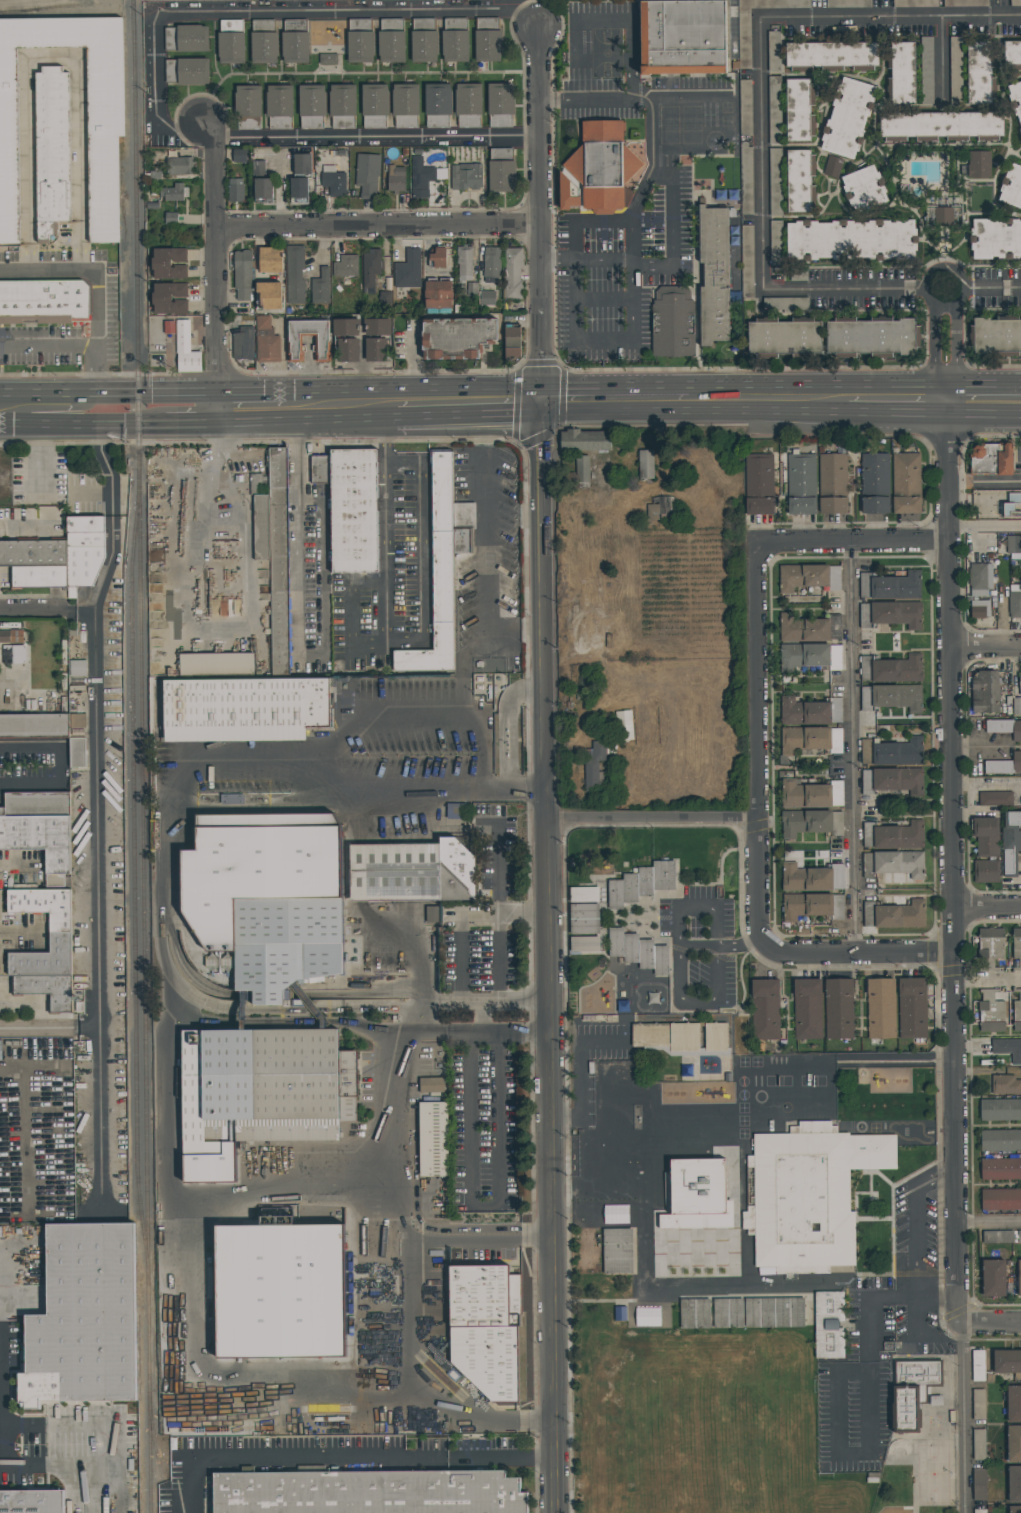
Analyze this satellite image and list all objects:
building: (915, 3)
building: (965, 3)
building: (1015, 3)
building: (848, 4)
road: (890, 19)
road: (574, 21)
building: (683, 37)
building: (187, 38)
building: (744, 39)
building: (391, 40)
building: (455, 40)
building: (488, 40)
building: (360, 41)
building: (424, 41)
building: (231, 42)
building: (264, 42)
building: (295, 42)
building: (773, 51)
building: (1012, 54)
building: (831, 55)
building: (327, 59)
road: (941, 61)
road: (155, 67)
building: (955, 68)
building: (926, 70)
building: (187, 71)
building: (978, 73)
building: (903, 74)
road: (633, 80)
building: (105, 91)
building: (1015, 99)
road: (648, 103)
building: (500, 104)
building: (374, 105)
building: (405, 105)
building: (437, 105)
building: (468, 105)
building: (312, 106)
building: (342, 106)
building: (249, 107)
building: (279, 107)
building: (744, 108)
building: (798, 109)
building: (774, 110)
building: (847, 117)
building: (942, 126)
building: (1020, 131)
building: (1020, 136)
building: (52, 151)
building: (239, 155)
building: (302, 164)
building: (978, 164)
building: (177, 166)
building: (603, 166)
road: (539, 167)
building: (832, 167)
building: (501, 170)
building: (367, 175)
building: (466, 177)
building: (395, 178)
building: (421, 178)
building: (745, 178)
building: (798, 180)
building: (261, 181)
building: (333, 181)
building: (774, 181)
building: (1011, 186)
building: (298, 188)
building: (864, 188)
building: (236, 190)
building: (175, 192)
building: (942, 216)
building: (171, 218)
road: (585, 223)
road: (377, 227)
road: (760, 230)
road: (673, 231)
building: (996, 238)
building: (851, 239)
building: (775, 242)
building: (439, 257)
road: (555, 258)
building: (271, 259)
road: (625, 259)
building: (746, 260)
building: (169, 263)
building: (465, 263)
building: (491, 264)
building: (346, 266)
building: (371, 268)
building: (407, 270)
road: (215, 271)
parking lot: (622, 271)
building: (513, 273)
building: (242, 274)
building: (295, 275)
building: (714, 275)
building: (320, 287)
road: (985, 288)
road: (1011, 288)
road: (915, 289)
building: (271, 294)
building: (438, 296)
building: (487, 296)
building: (169, 298)
building: (43, 301)
building: (785, 302)
road: (965, 304)
road: (97, 309)
building: (672, 322)
building: (873, 335)
building: (996, 335)
building: (785, 336)
building: (458, 337)
building: (377, 338)
building: (347, 339)
building: (266, 341)
building: (512, 342)
building: (243, 343)
building: (295, 343)
road: (601, 343)
road: (541, 346)
building: (185, 349)
traffic signals: (542, 360)
road: (955, 364)
road: (932, 366)
road: (96, 369)
road: (976, 384)
road: (811, 385)
road: (615, 386)
traffic signals: (567, 387)
road: (417, 389)
road: (108, 390)
road: (255, 390)
road: (540, 401)
road: (53, 411)
traffic signals: (513, 414)
road: (462, 415)
road: (686, 415)
road: (890, 415)
road: (984, 415)
road: (302, 419)
road: (69, 420)
road: (179, 421)
building: (585, 440)
traffic signals: (539, 441)
road: (100, 449)
road: (38, 455)
road: (219, 456)
building: (991, 459)
building: (646, 464)
building: (582, 468)
building: (320, 469)
road: (538, 469)
road: (984, 481)
building: (906, 483)
building: (759, 484)
building: (801, 484)
building: (832, 484)
building: (875, 484)
building: (1012, 506)
building: (660, 507)
building: (354, 511)
road: (112, 513)
building: (260, 515)
road: (23, 521)
road: (984, 525)
building: (463, 527)
road: (854, 544)
building: (1014, 546)
building: (84, 549)
building: (34, 552)
building: (279, 561)
building: (38, 576)
building: (438, 577)
building: (808, 577)
building: (980, 578)
crop: (684, 585)
building: (890, 586)
building: (1015, 601)
building: (980, 608)
road: (47, 609)
road: (386, 612)
building: (891, 614)
building: (809, 628)
building: (11, 636)
road: (369, 645)
road: (986, 647)
building: (14, 654)
building: (809, 656)
building: (216, 664)
building: (78, 668)
building: (891, 669)
building: (1020, 684)
building: (985, 692)
building: (892, 697)
building: (1017, 705)
building: (241, 708)
building: (810, 711)
building: (78, 721)
building: (34, 724)
building: (624, 725)
building: (1005, 728)
building: (810, 739)
road: (758, 745)
road: (970, 745)
road: (853, 749)
building: (78, 752)
building: (892, 752)
railway: (144, 756)
road: (59, 765)
building: (1004, 765)
building: (595, 768)
building: (893, 780)
road: (982, 785)
road: (94, 788)
road: (434, 788)
building: (811, 794)
building: (995, 798)
building: (36, 804)
building: (456, 811)
road: (652, 819)
building: (811, 822)
building: (894, 835)
building: (986, 836)
building: (40, 841)
building: (1011, 842)
building: (894, 863)
road: (16, 867)
road: (953, 870)
building: (986, 871)
building: (412, 872)
railway: (136, 873)
building: (811, 878)
building: (641, 883)
road: (497, 892)
building: (584, 894)
building: (267, 897)
building: (44, 905)
building: (812, 906)
road: (987, 908)
building: (433, 914)
building: (894, 914)
building: (584, 918)
building: (584, 944)
road: (719, 946)
building: (1016, 946)
building: (990, 947)
building: (638, 951)
road: (858, 954)
building: (44, 958)
road: (677, 960)
road: (498, 980)
building: (46, 989)
building: (839, 1008)
building: (881, 1008)
building: (912, 1008)
building: (766, 1009)
building: (807, 1009)
building: (1017, 1010)
building: (991, 1012)
road: (481, 1016)
road: (548, 1019)
road: (35, 1026)
road: (478, 1031)
building: (650, 1035)
building: (684, 1037)
building: (716, 1037)
building: (1008, 1048)
road: (394, 1084)
building: (1005, 1084)
building: (431, 1085)
building: (260, 1093)
road: (582, 1096)
building: (1000, 1110)
road: (97, 1114)
building: (433, 1138)
building: (1000, 1140)
building: (1001, 1169)
building: (698, 1187)
building: (810, 1194)
building: (1001, 1199)
road: (485, 1205)
road: (915, 1221)
road: (989, 1222)
building: (997, 1236)
building: (1019, 1236)
building: (617, 1251)
building: (1019, 1277)
building: (994, 1278)
building: (281, 1291)
building: (774, 1312)
building: (620, 1313)
building: (694, 1313)
building: (728, 1313)
building: (84, 1318)
road: (407, 1318)
building: (829, 1324)
road: (989, 1325)
building: (486, 1327)
railway: (120, 1347)
building: (1007, 1361)
road: (3, 1363)
building: (978, 1365)
road: (838, 1372)
building: (912, 1391)
building: (978, 1404)
building: (1013, 1404)
road: (964, 1419)
park: (926, 1432)
building: (1014, 1443)
building: (979, 1444)
road: (110, 1445)
road: (346, 1458)
railway: (160, 1459)
building: (1014, 1483)
building: (979, 1484)
building: (368, 1492)
building: (31, 1501)
building: (1014, 1508)
building: (979, 1511)

